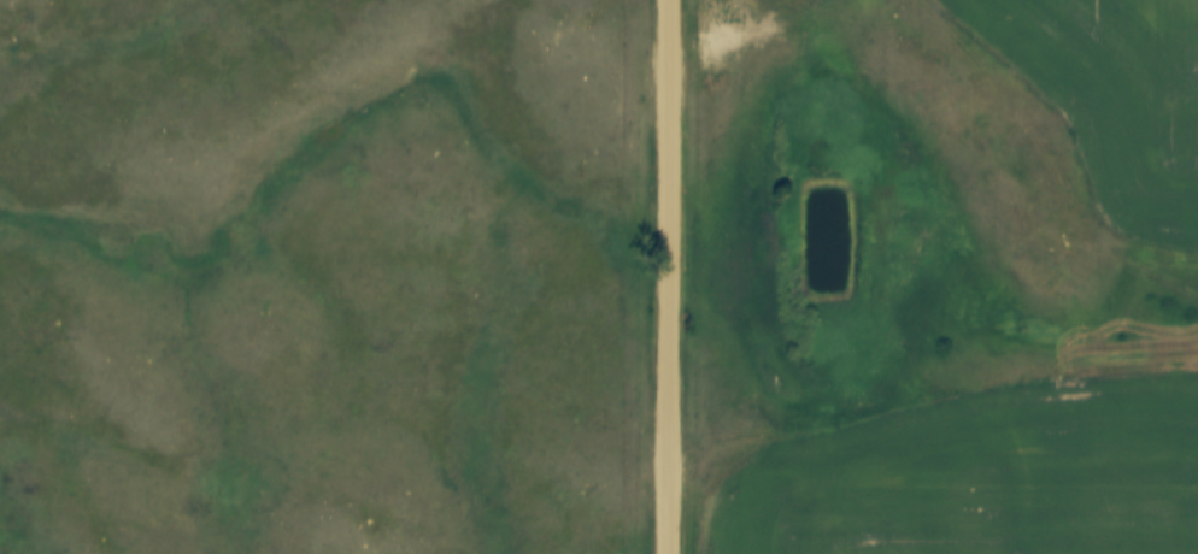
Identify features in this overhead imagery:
road: (670, 277)

